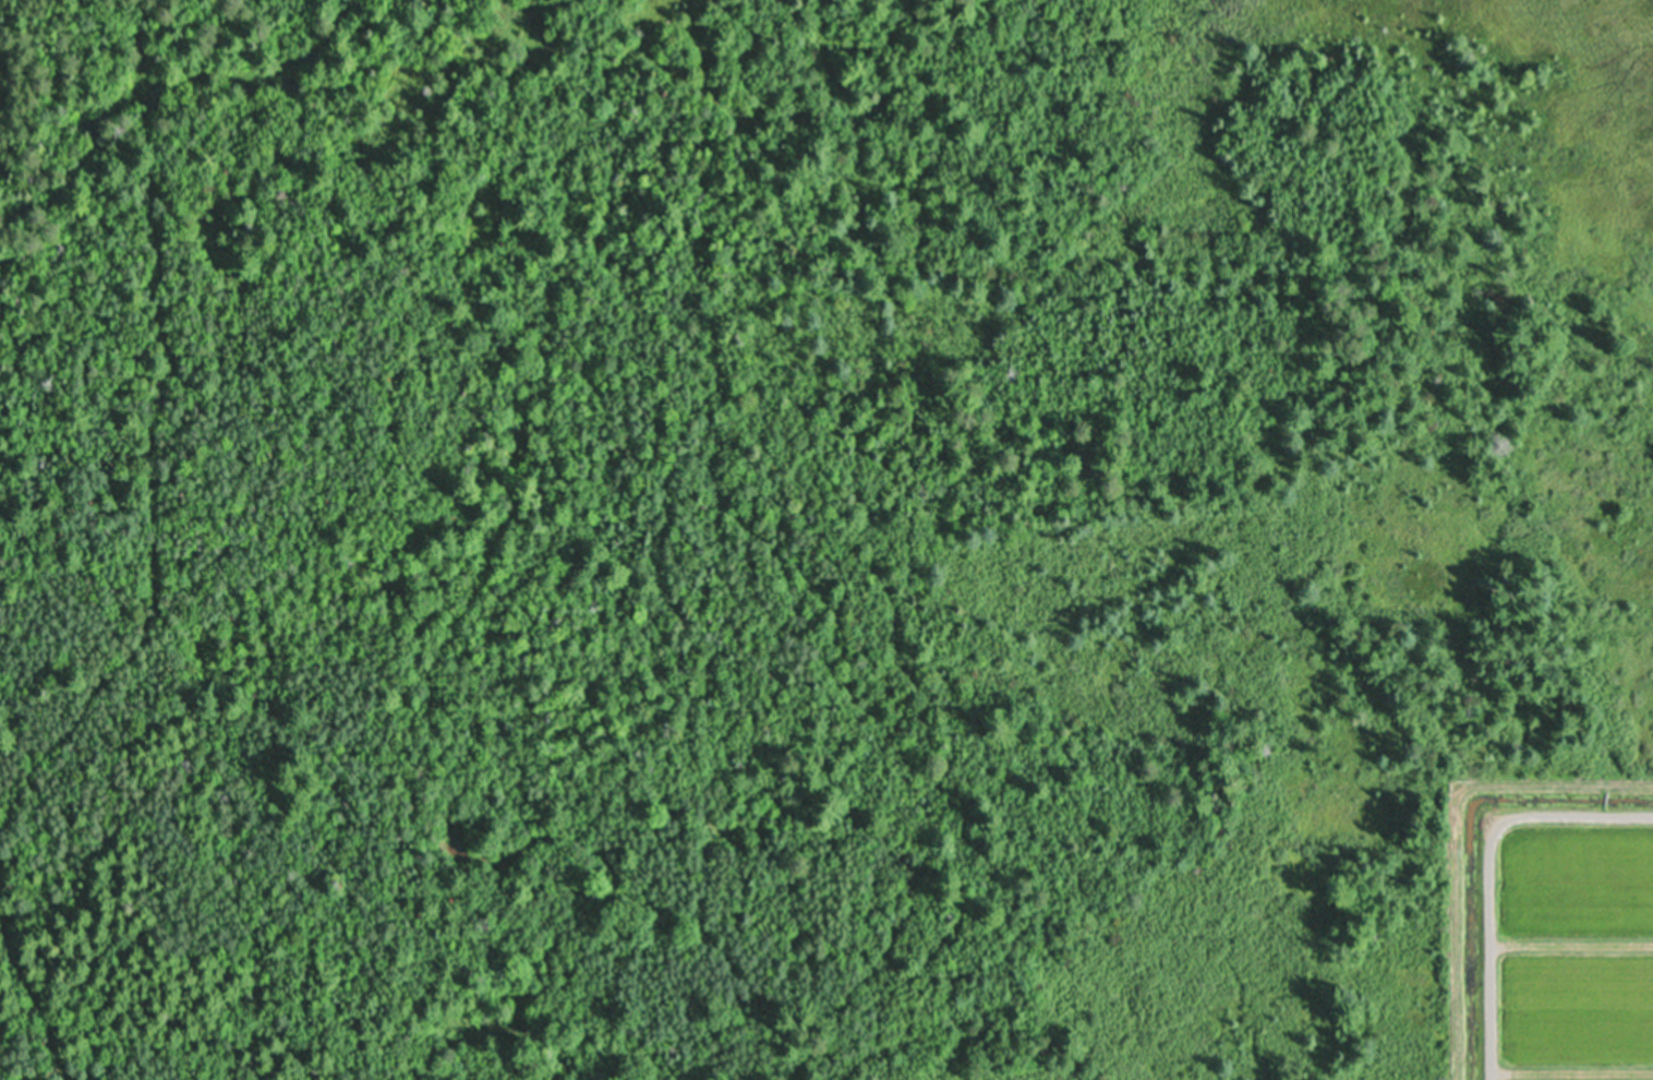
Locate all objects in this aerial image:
crop: (1552, 926)

